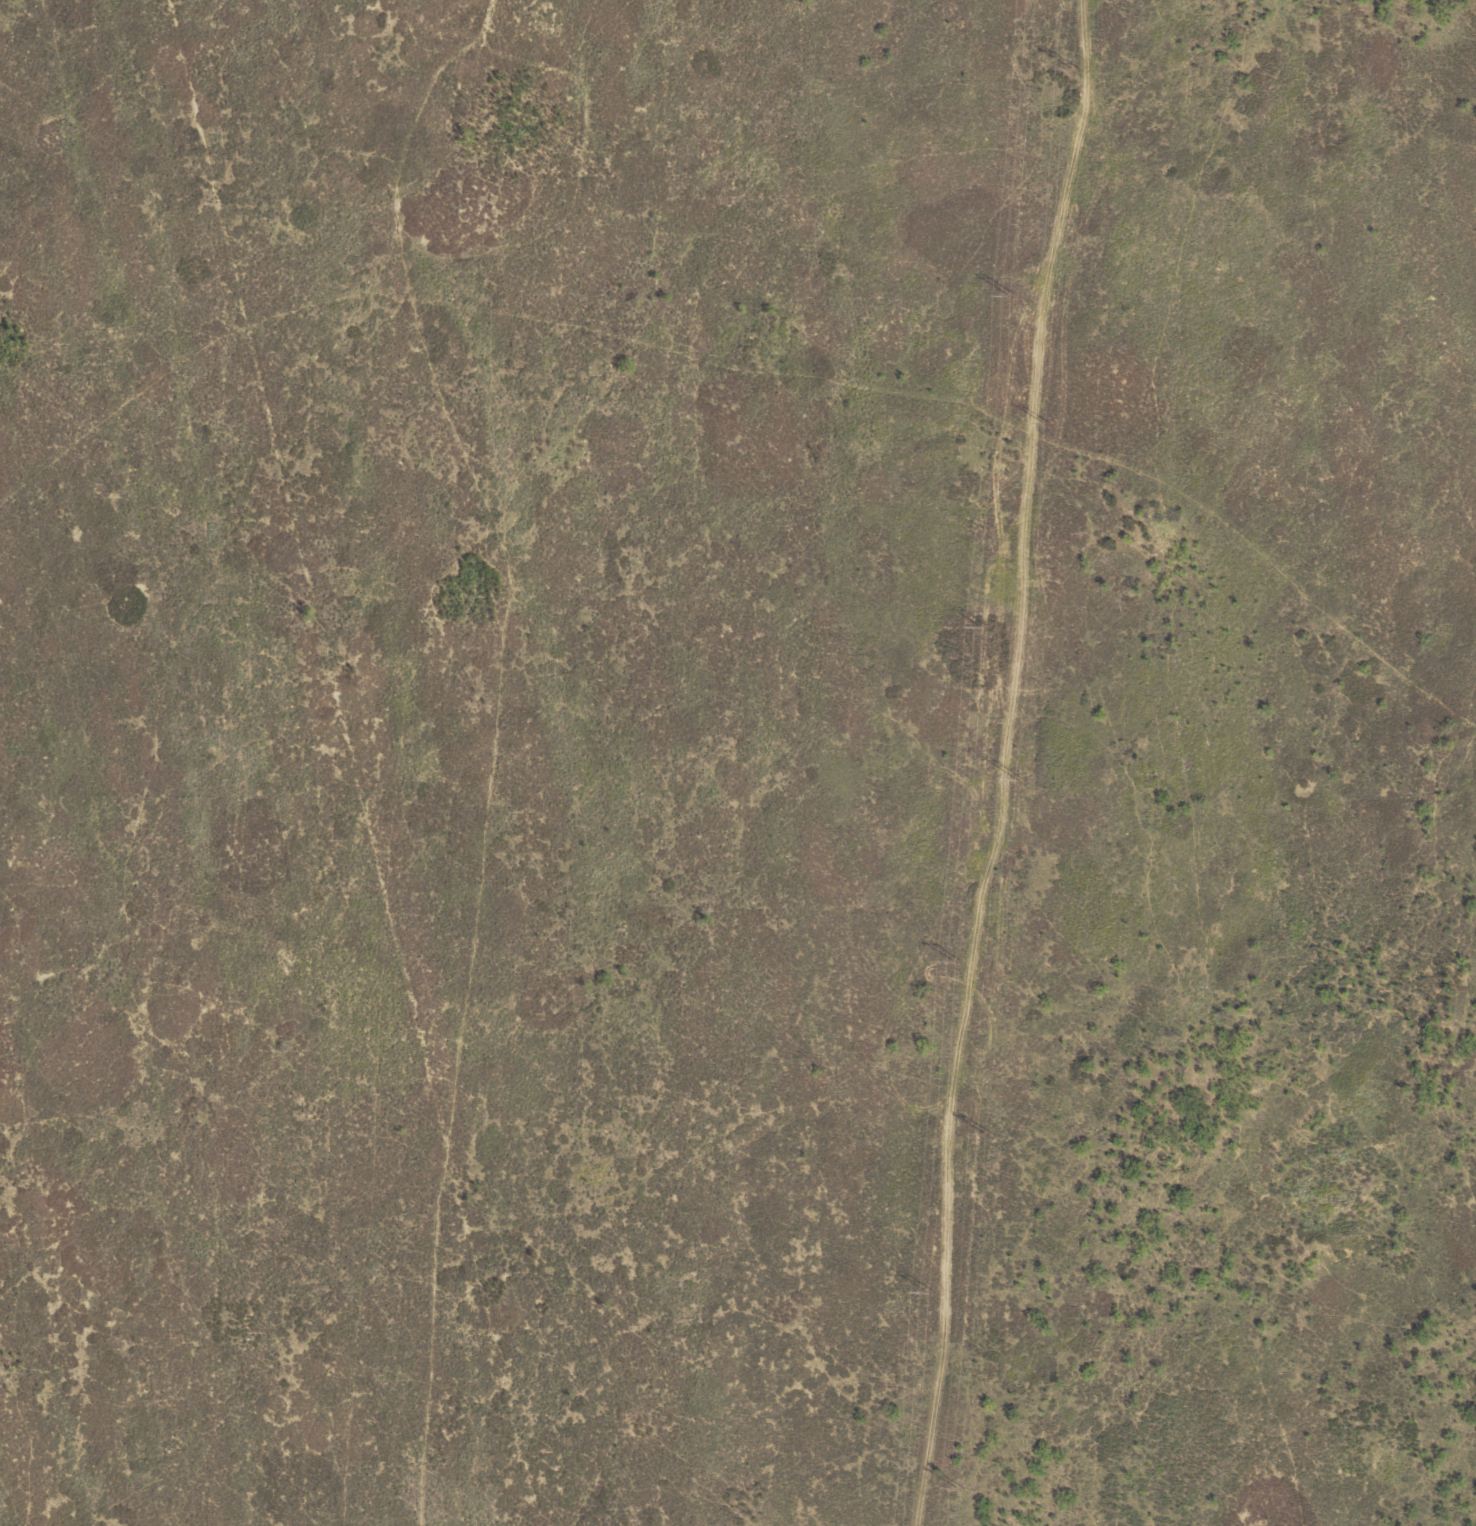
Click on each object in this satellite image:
power tower: (1076, 70)
power tower: (1011, 295)
power tower: (1047, 425)
power tower: (986, 624)
power tower: (1018, 777)
power tower: (958, 960)
power tower: (990, 1134)
power tower: (930, 1293)
power tower: (959, 1490)

